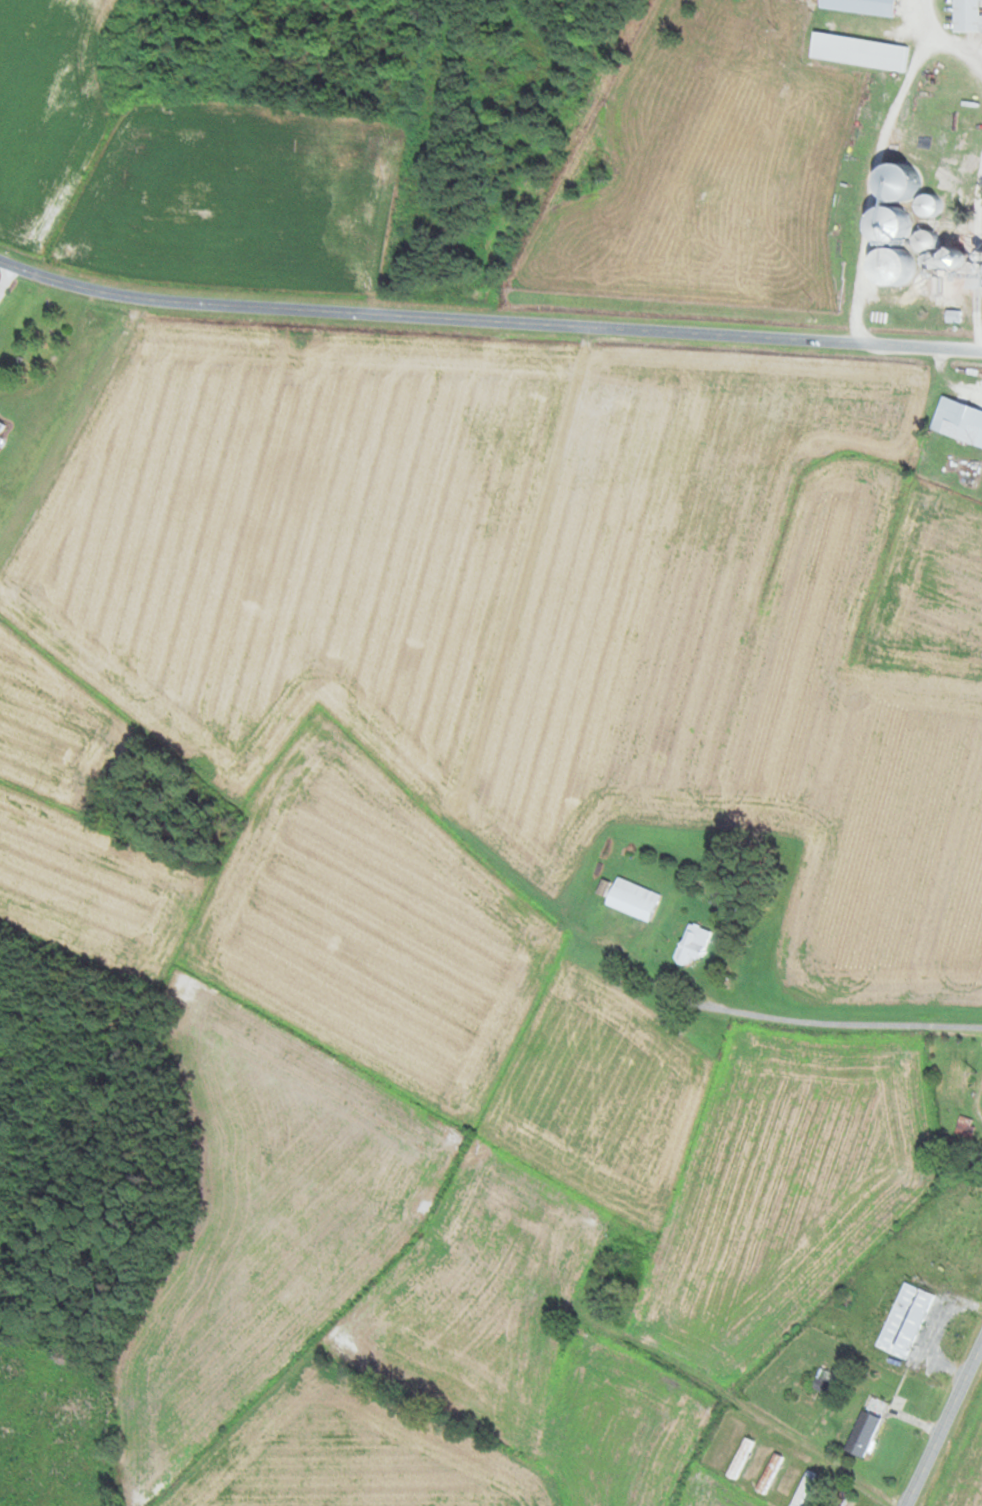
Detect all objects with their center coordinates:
building: (857, 7)
building: (963, 16)
building: (855, 53)
building: (923, 204)
building: (920, 240)
building: (981, 257)
building: (951, 258)
road: (488, 317)
road: (75, 365)
building: (957, 421)
building: (630, 899)
building: (689, 944)
building: (962, 1127)
building: (621, 1275)
building: (902, 1320)
road: (938, 1333)
building: (820, 1381)
road: (751, 1409)
road: (945, 1425)
building: (864, 1426)
building: (737, 1458)
building: (766, 1473)
building: (800, 1489)

